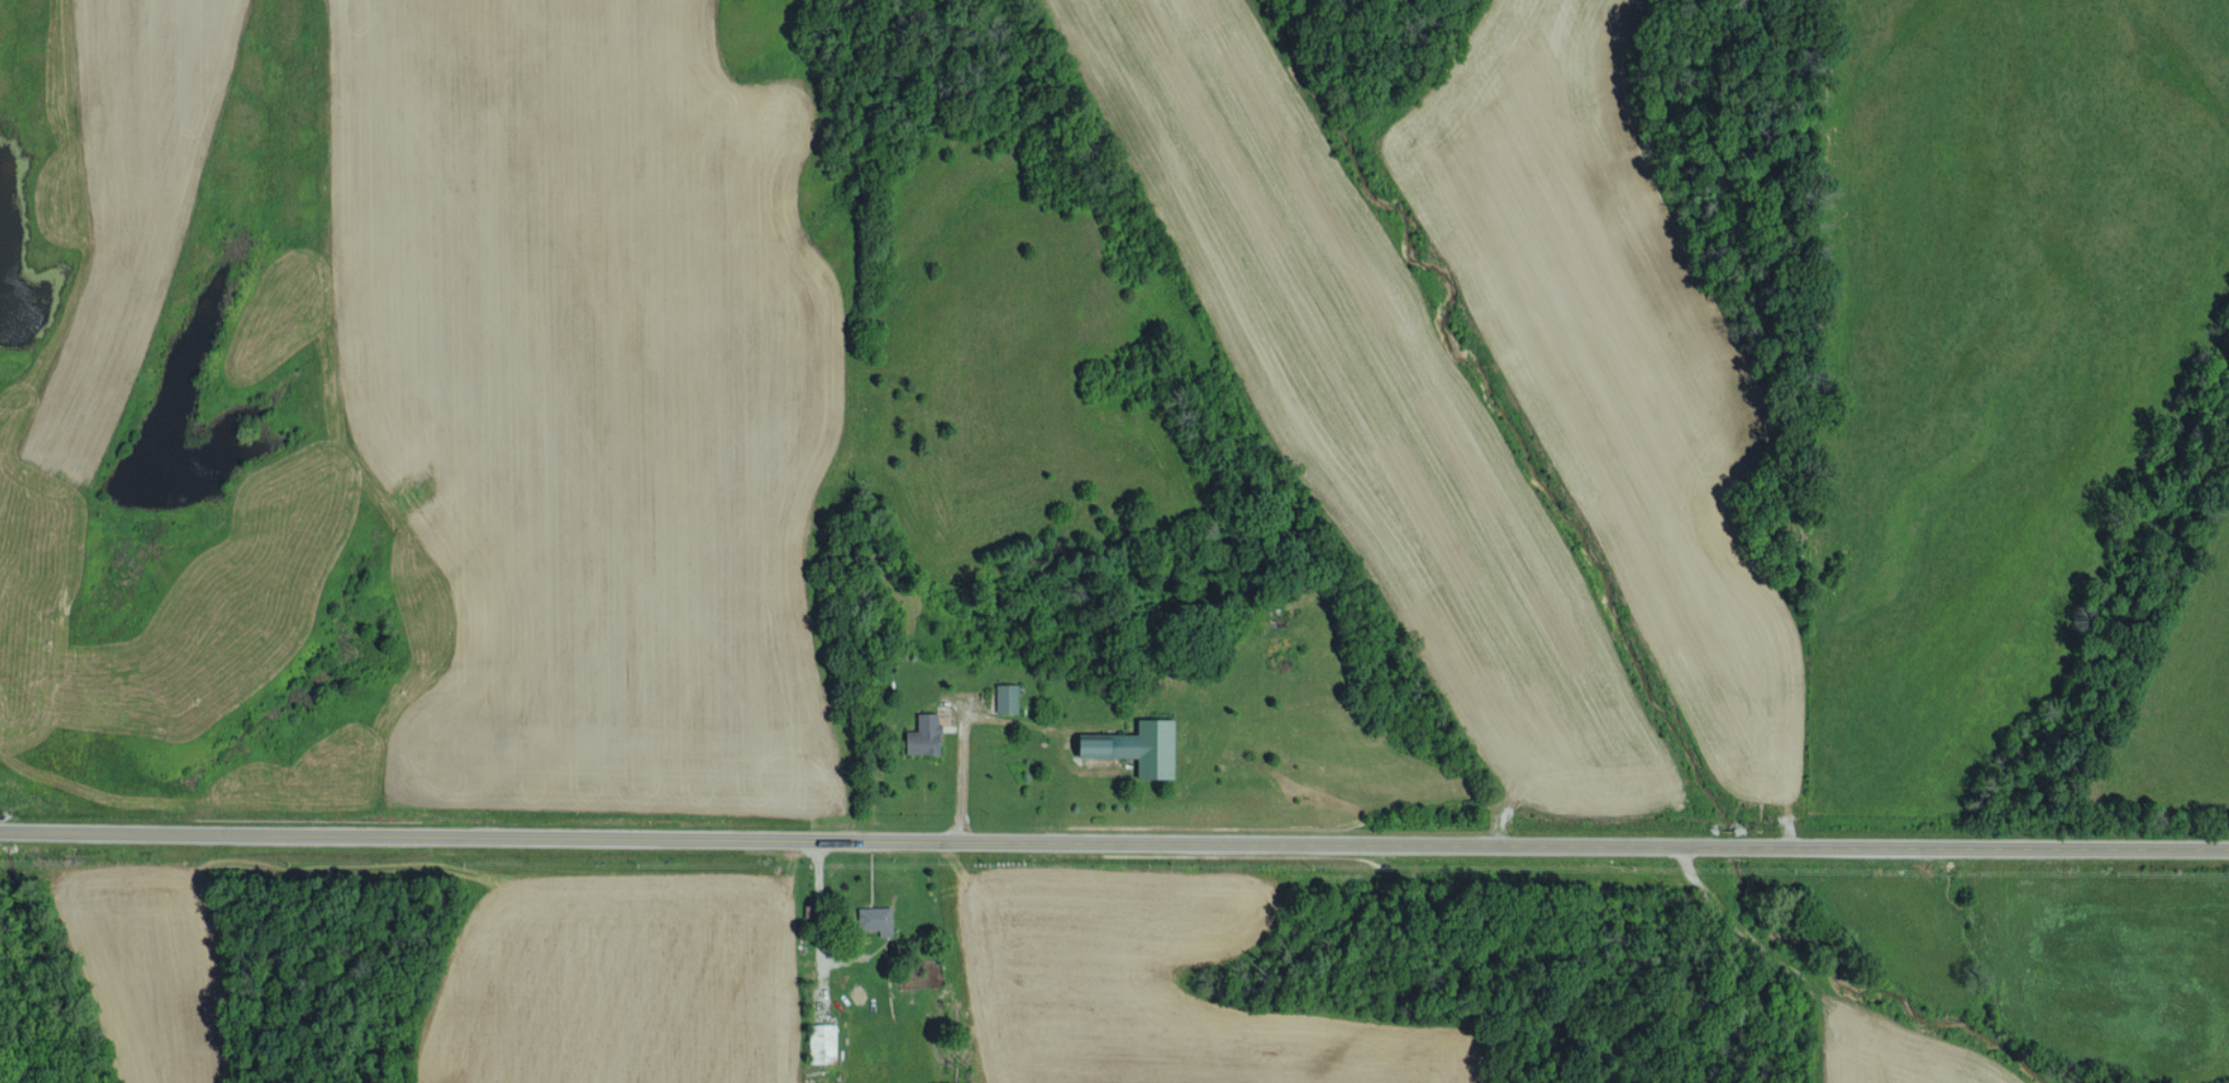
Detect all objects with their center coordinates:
building: (1009, 697)
building: (928, 734)
building: (1145, 747)
road: (1114, 844)
building: (878, 919)

